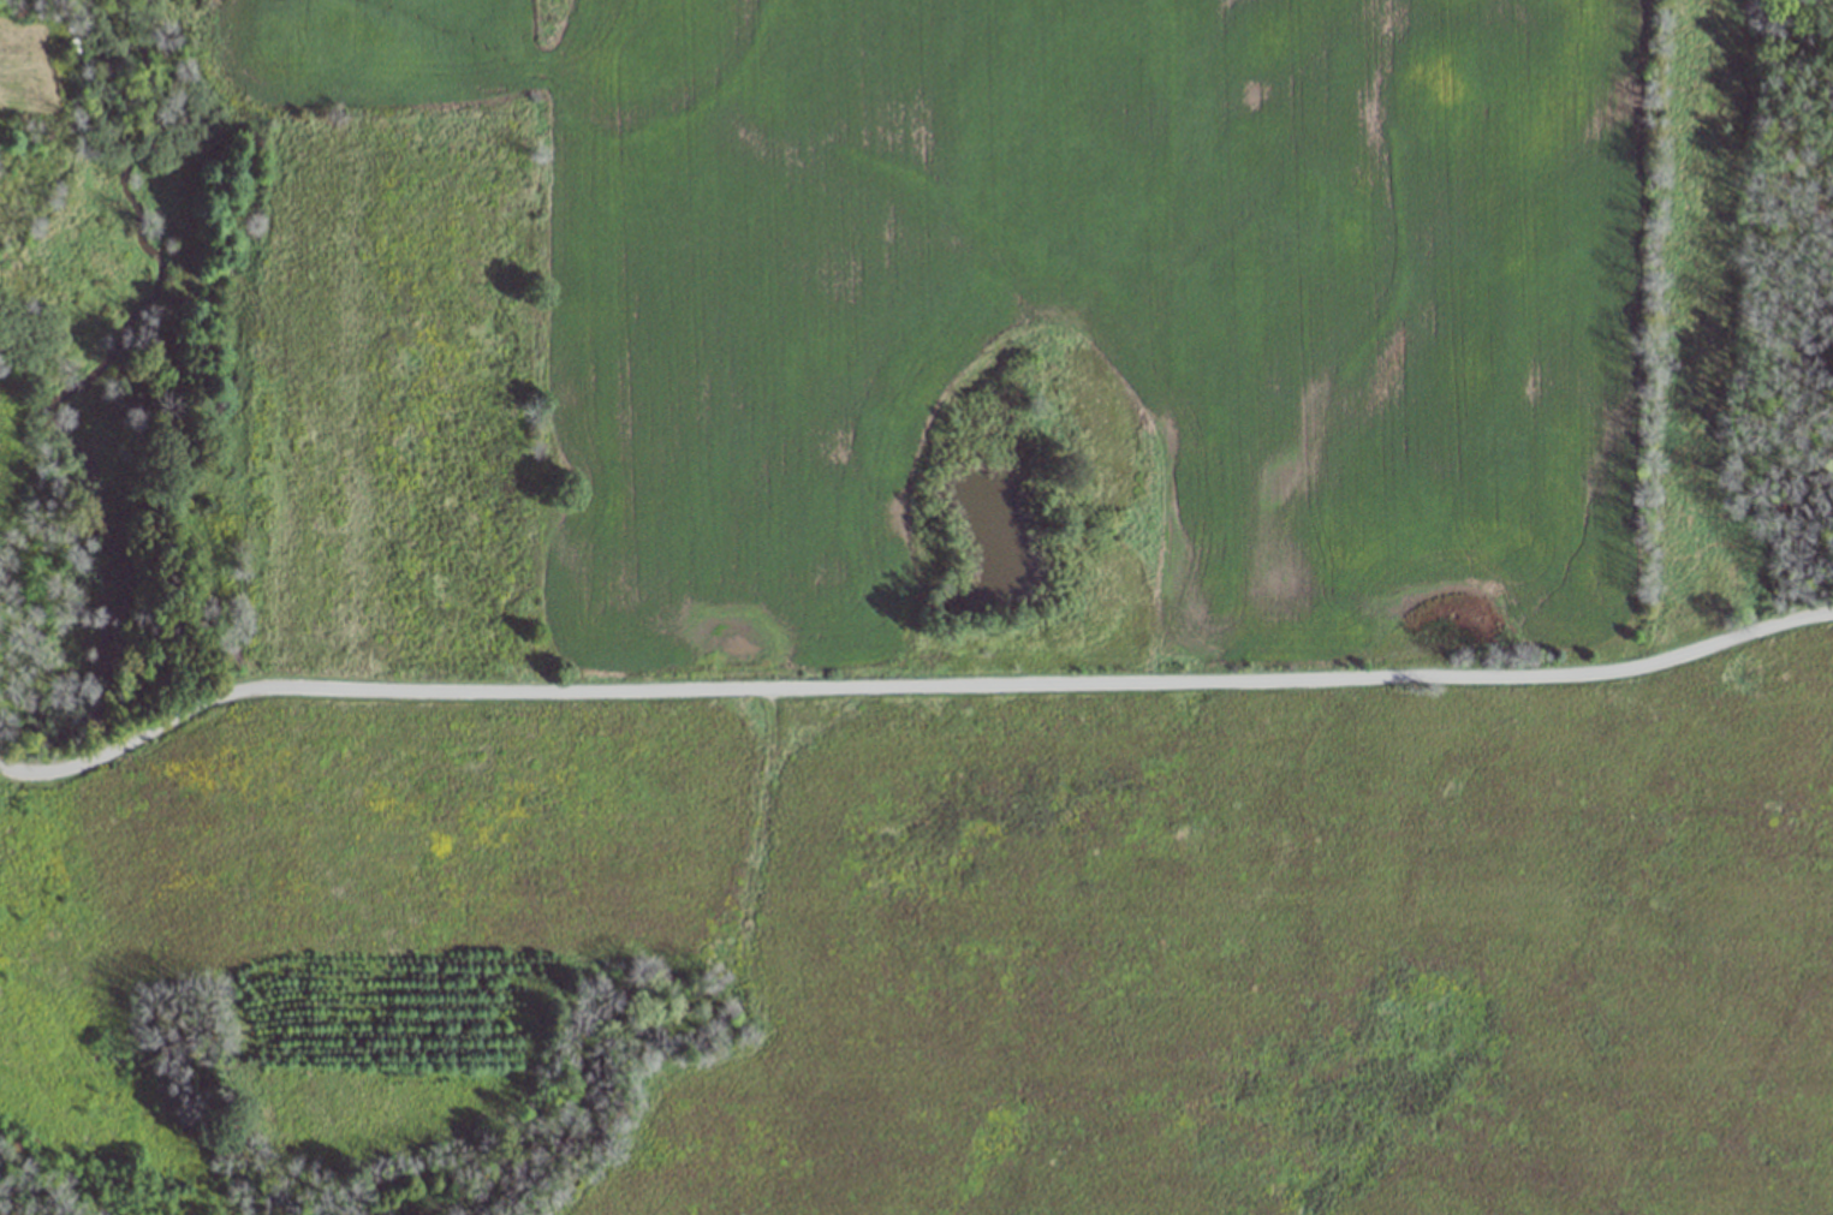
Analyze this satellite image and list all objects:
road: (910, 685)

